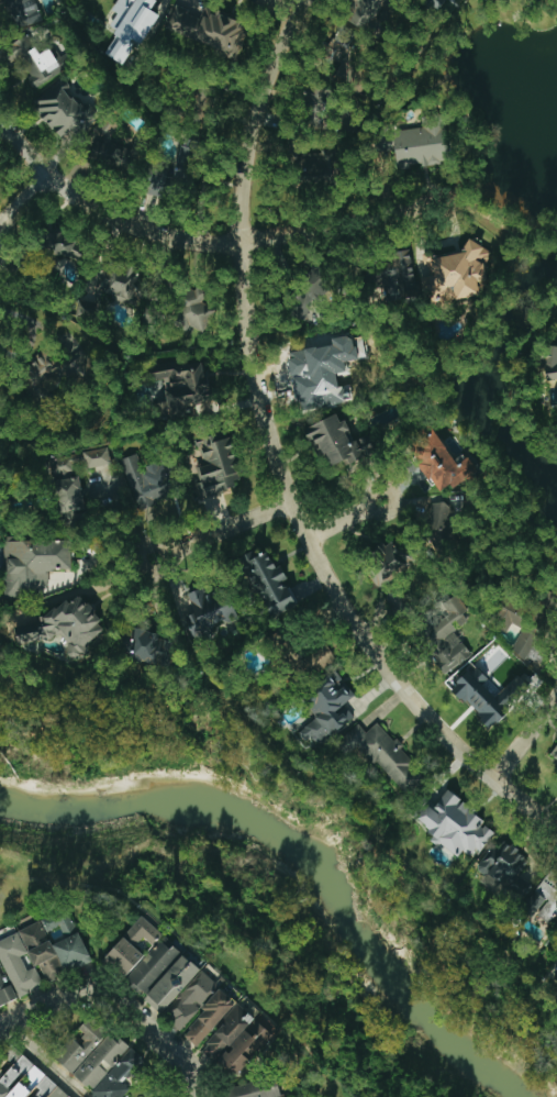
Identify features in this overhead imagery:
building: (435, 2)
road: (280, 7)
building: (23, 12)
building: (364, 13)
building: (130, 26)
building: (209, 30)
building: (34, 59)
building: (314, 99)
building: (62, 110)
road: (258, 117)
building: (421, 146)
building: (322, 166)
building: (155, 170)
building: (0, 179)
road: (25, 200)
road: (201, 242)
building: (65, 247)
building: (400, 275)
building: (315, 286)
building: (114, 287)
building: (194, 310)
road: (36, 340)
building: (550, 365)
building: (63, 368)
building: (180, 388)
building: (337, 442)
building: (438, 461)
building: (216, 465)
building: (149, 480)
building: (75, 484)
road: (344, 517)
road: (224, 532)
building: (388, 563)
building: (33, 565)
road: (326, 575)
building: (269, 584)
building: (549, 600)
building: (210, 610)
building: (65, 627)
building: (446, 636)
building: (151, 647)
building: (486, 696)
building: (327, 708)
road: (526, 740)
building: (555, 753)
building: (388, 760)
building: (455, 824)
river: (310, 853)
building: (505, 869)
building: (543, 895)
building: (55, 948)
building: (152, 964)
building: (18, 966)
building: (5, 988)
building: (190, 999)
road: (118, 1002)
building: (209, 1018)
building: (235, 1042)
building: (101, 1060)
road: (47, 1061)
building: (27, 1082)
building: (255, 1088)

